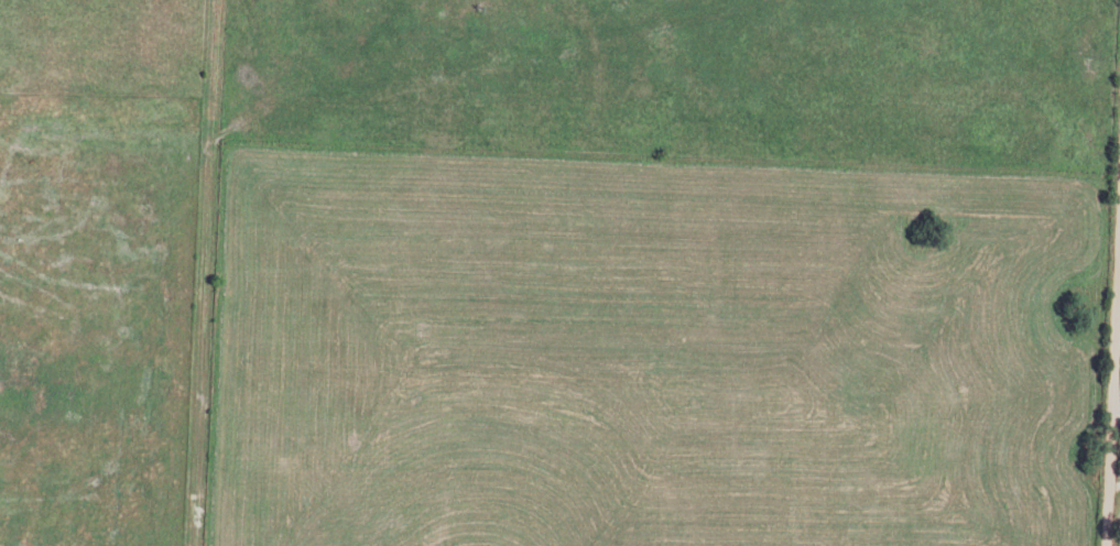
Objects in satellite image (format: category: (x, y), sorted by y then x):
road: (1112, 336)

